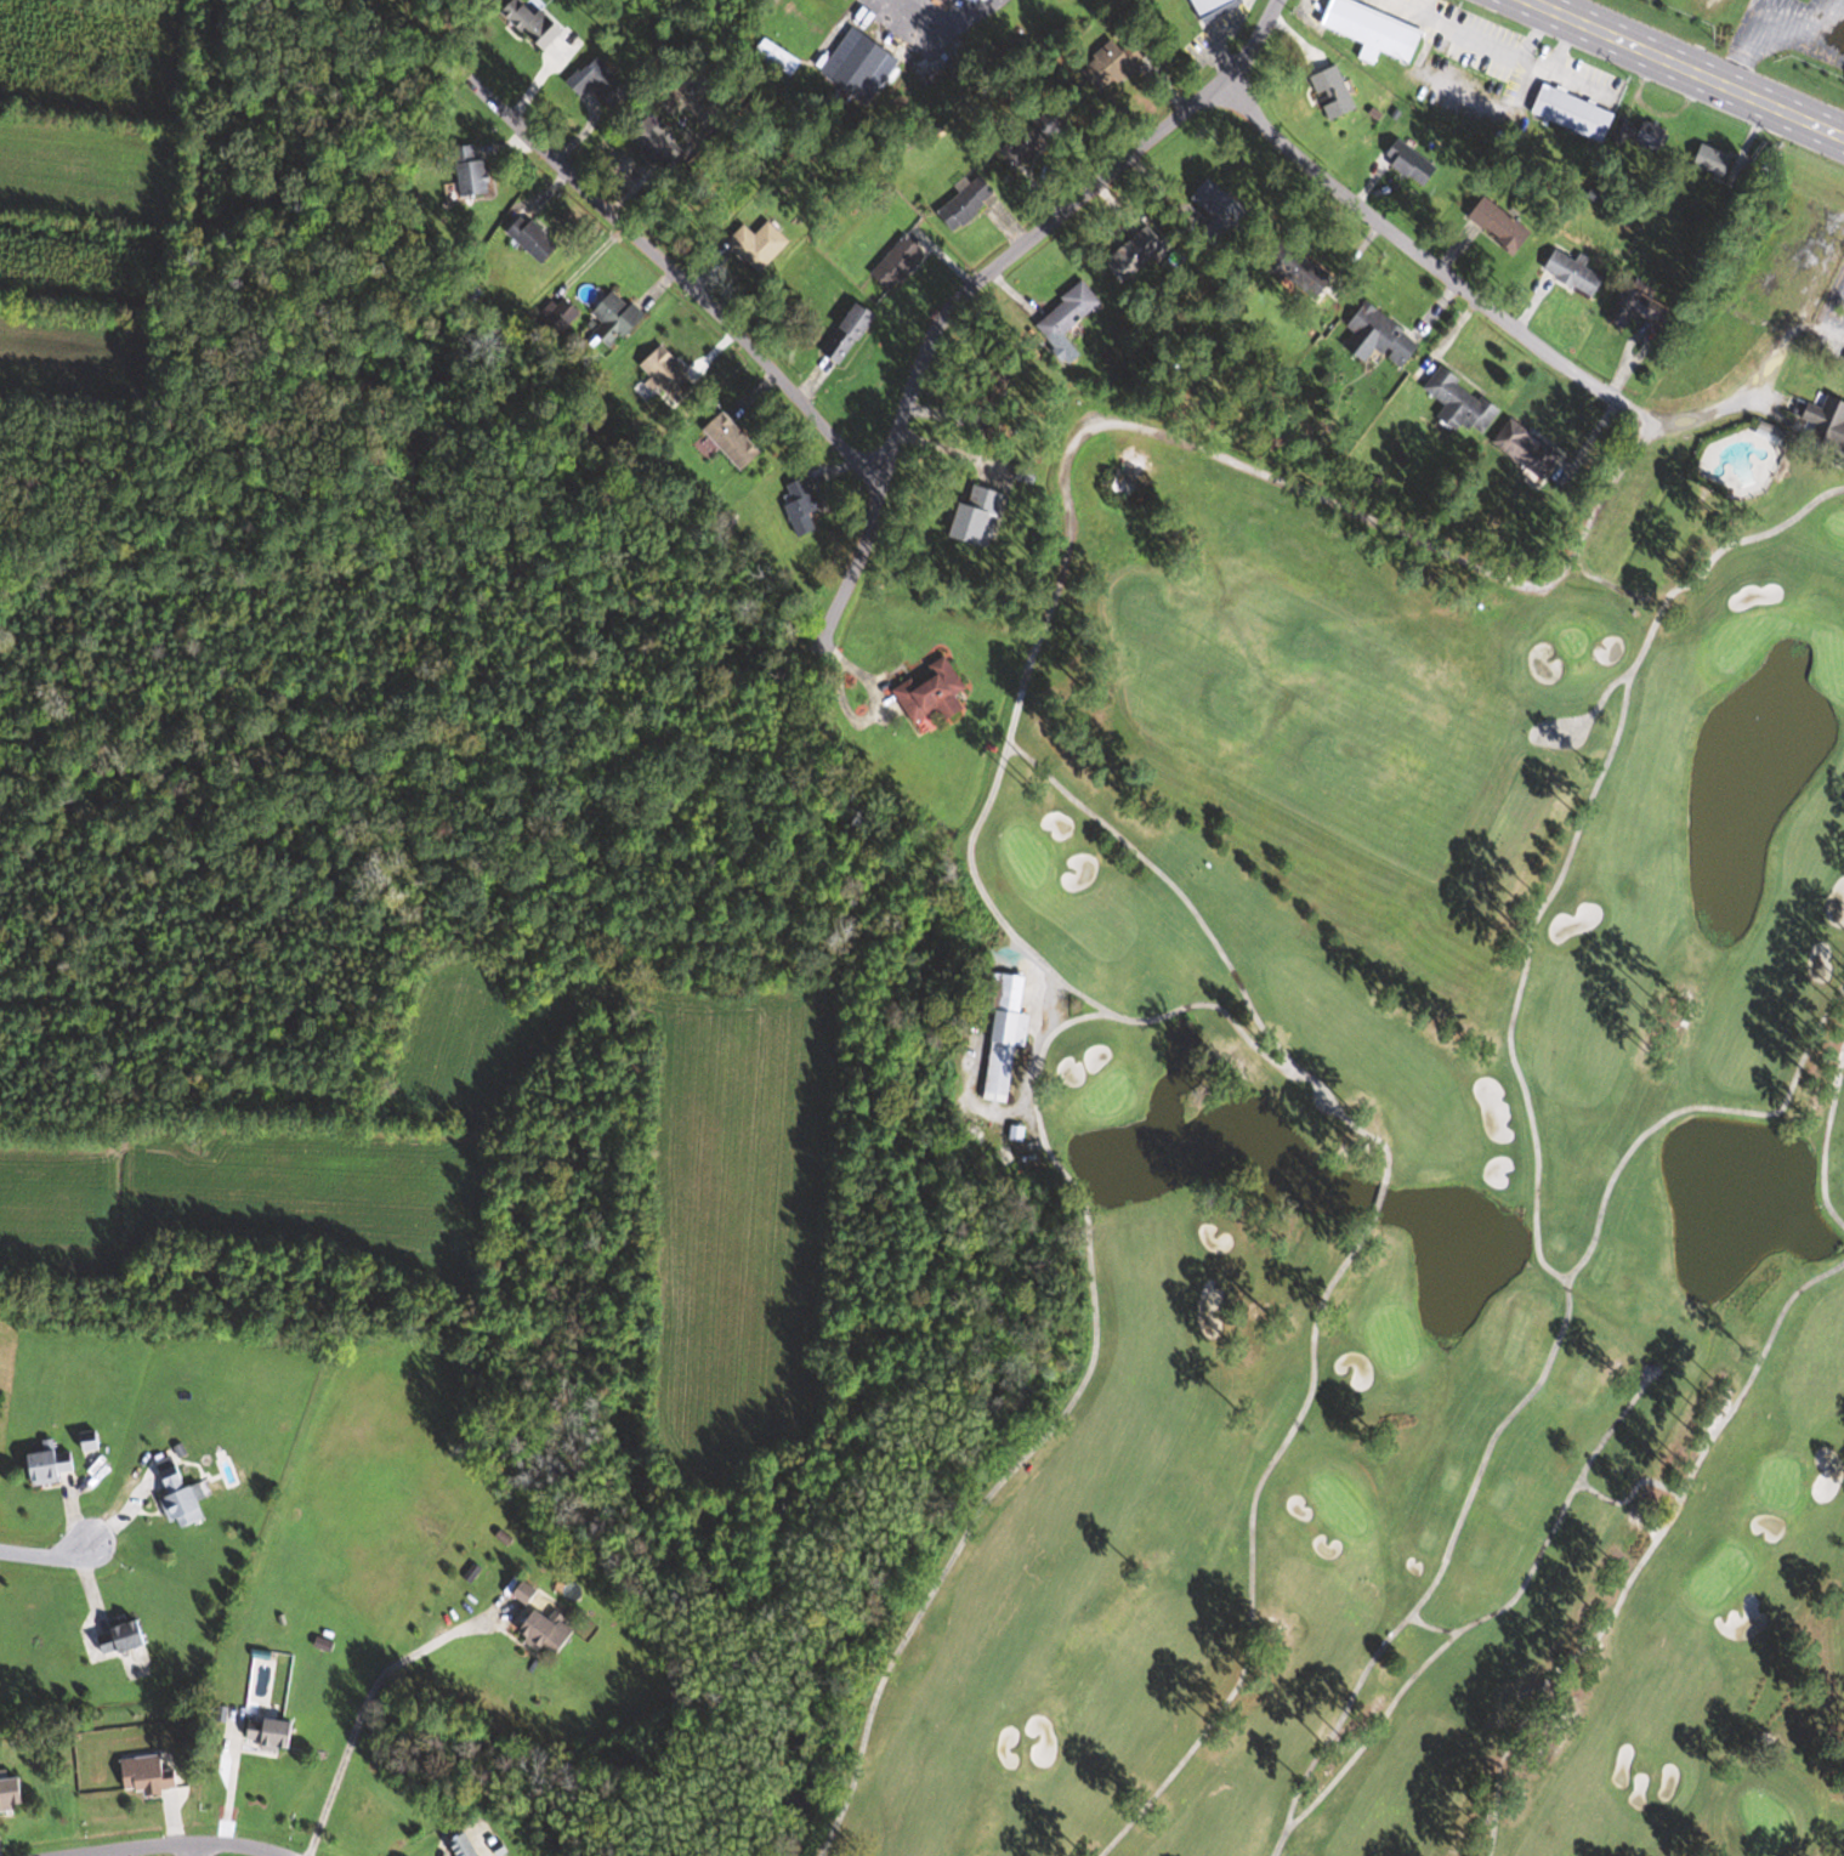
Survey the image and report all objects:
building: (835, 4)
building: (1710, 5)
building: (1214, 7)
building: (535, 23)
building: (1375, 30)
building: (777, 57)
building: (1118, 59)
building: (861, 66)
road: (1690, 66)
building: (600, 80)
building: (1334, 91)
building: (1573, 113)
building: (1040, 132)
building: (1639, 132)
building: (657, 143)
building: (1713, 159)
building: (1413, 163)
building: (471, 171)
building: (968, 203)
building: (1502, 225)
building: (534, 238)
building: (766, 242)
building: (1142, 249)
building: (898, 262)
road: (1436, 266)
building: (1300, 269)
building: (1575, 272)
road: (977, 279)
road: (693, 285)
building: (1639, 307)
building: (563, 312)
building: (617, 318)
building: (851, 333)
building: (1380, 335)
building: (668, 374)
building: (1463, 402)
park: (1826, 412)
road: (1114, 420)
building: (1827, 424)
building: (733, 441)
building: (1527, 448)
building: (802, 505)
building: (978, 513)
building: (932, 694)
building: (1004, 1029)
building: (91, 1441)
building: (52, 1466)
building: (182, 1499)
road: (47, 1557)
building: (527, 1593)
building: (545, 1631)
building: (123, 1640)
road: (365, 1703)
building: (272, 1733)
building: (148, 1776)
building: (13, 1795)
road: (169, 1840)
road: (203, 1846)
building: (464, 1846)

